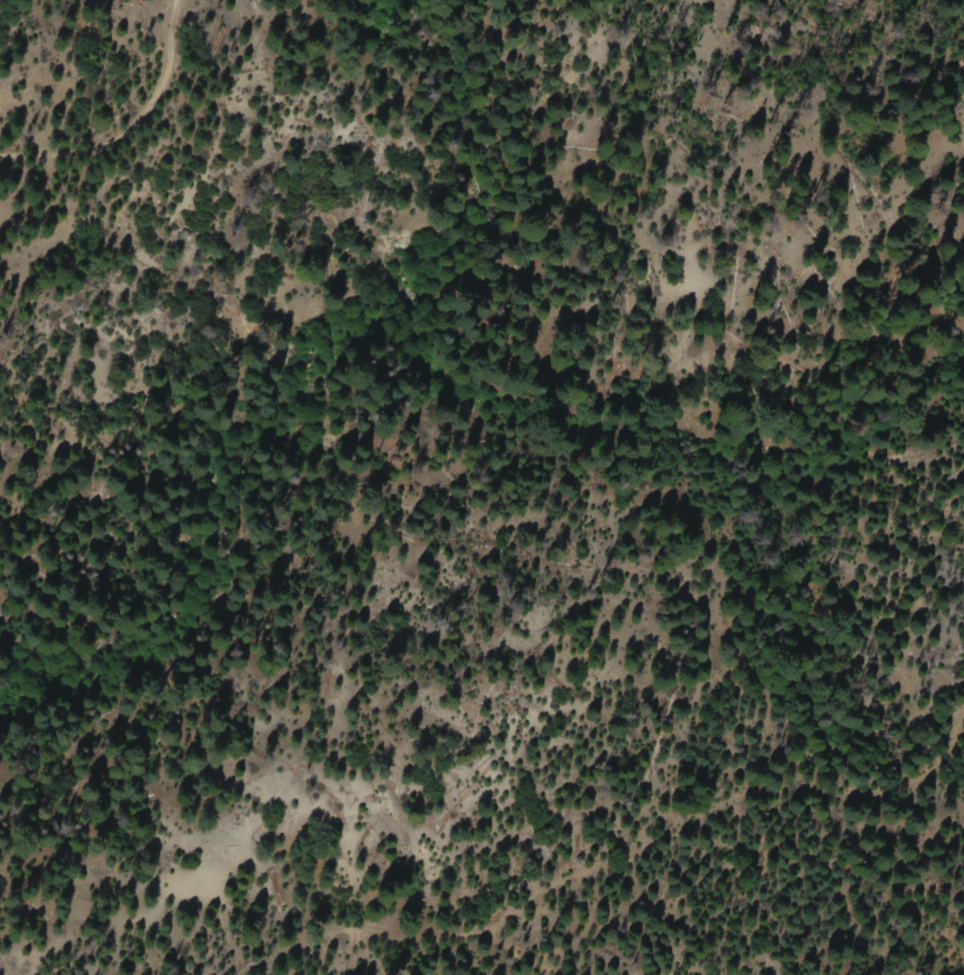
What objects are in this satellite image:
road: (120, 123)

